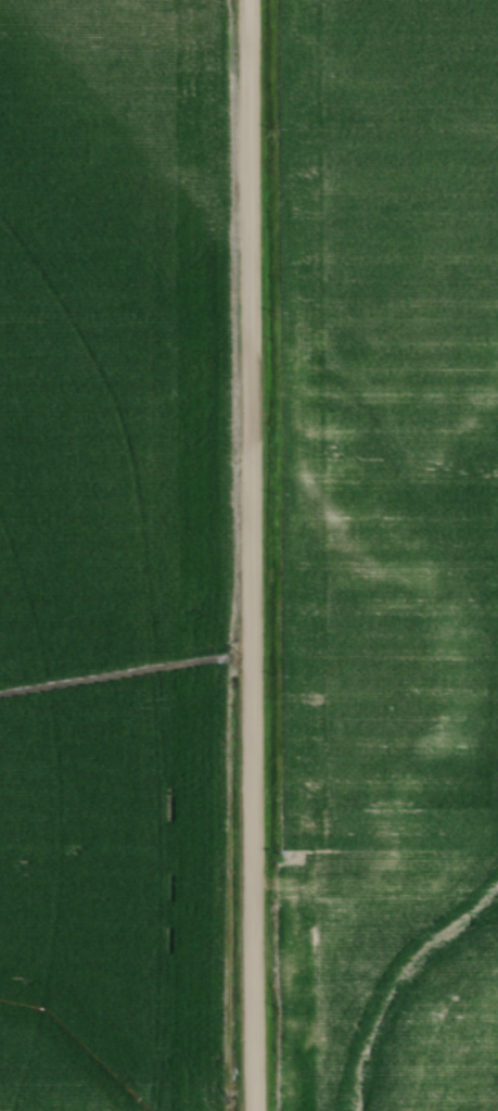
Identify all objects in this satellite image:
road: (252, 555)

